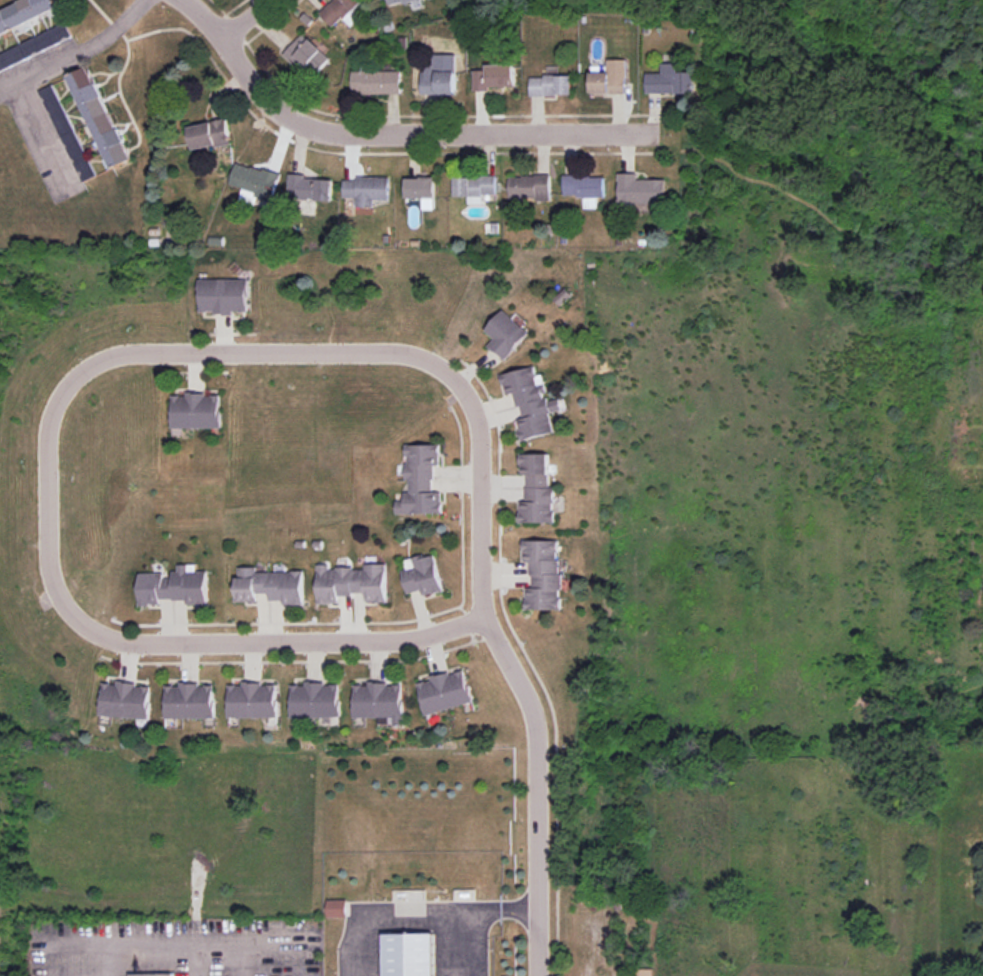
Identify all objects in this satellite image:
building: (397, 1)
building: (342, 11)
building: (25, 13)
road: (246, 19)
building: (34, 46)
road: (78, 52)
building: (306, 56)
building: (494, 77)
building: (610, 78)
building: (440, 79)
building: (670, 80)
building: (377, 82)
building: (551, 85)
building: (100, 117)
road: (391, 128)
building: (68, 133)
building: (210, 134)
road: (41, 136)
building: (255, 184)
building: (309, 187)
building: (474, 187)
building: (529, 187)
building: (584, 188)
building: (421, 189)
building: (640, 189)
building: (367, 190)
building: (223, 295)
building: (505, 334)
road: (119, 353)
building: (531, 401)
building: (196, 411)
building: (421, 481)
building: (536, 489)
building: (543, 574)
building: (422, 575)
building: (352, 582)
building: (269, 585)
building: (174, 586)
building: (445, 691)
building: (125, 700)
building: (253, 700)
building: (315, 700)
building: (190, 701)
building: (380, 702)
road: (534, 791)
building: (337, 908)
road: (418, 912)
building: (406, 955)
building: (642, 972)
building: (149, 975)

